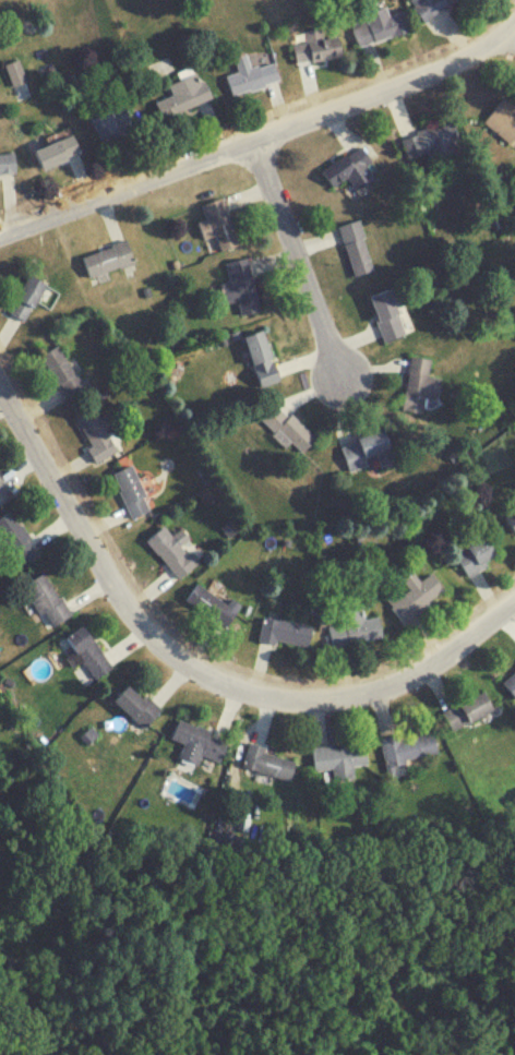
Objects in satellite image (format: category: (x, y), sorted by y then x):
building: (429, 5)
building: (376, 26)
road: (511, 29)
building: (319, 47)
building: (16, 72)
building: (252, 75)
building: (185, 95)
building: (503, 120)
building: (112, 122)
road: (263, 136)
building: (430, 141)
building: (59, 152)
building: (8, 164)
building: (351, 169)
building: (218, 224)
building: (356, 247)
road: (297, 256)
building: (108, 257)
building: (240, 285)
building: (27, 297)
building: (391, 312)
building: (259, 346)
building: (63, 372)
building: (420, 382)
building: (286, 425)
building: (97, 432)
building: (368, 449)
building: (2, 488)
building: (131, 490)
building: (511, 519)
building: (15, 536)
building: (172, 549)
building: (476, 553)
building: (415, 594)
building: (47, 598)
building: (213, 603)
building: (354, 626)
building: (285, 632)
building: (88, 651)
road: (200, 667)
building: (510, 681)
building: (137, 705)
building: (467, 709)
building: (199, 743)
building: (408, 746)
building: (339, 757)
building: (268, 762)
building: (225, 843)

